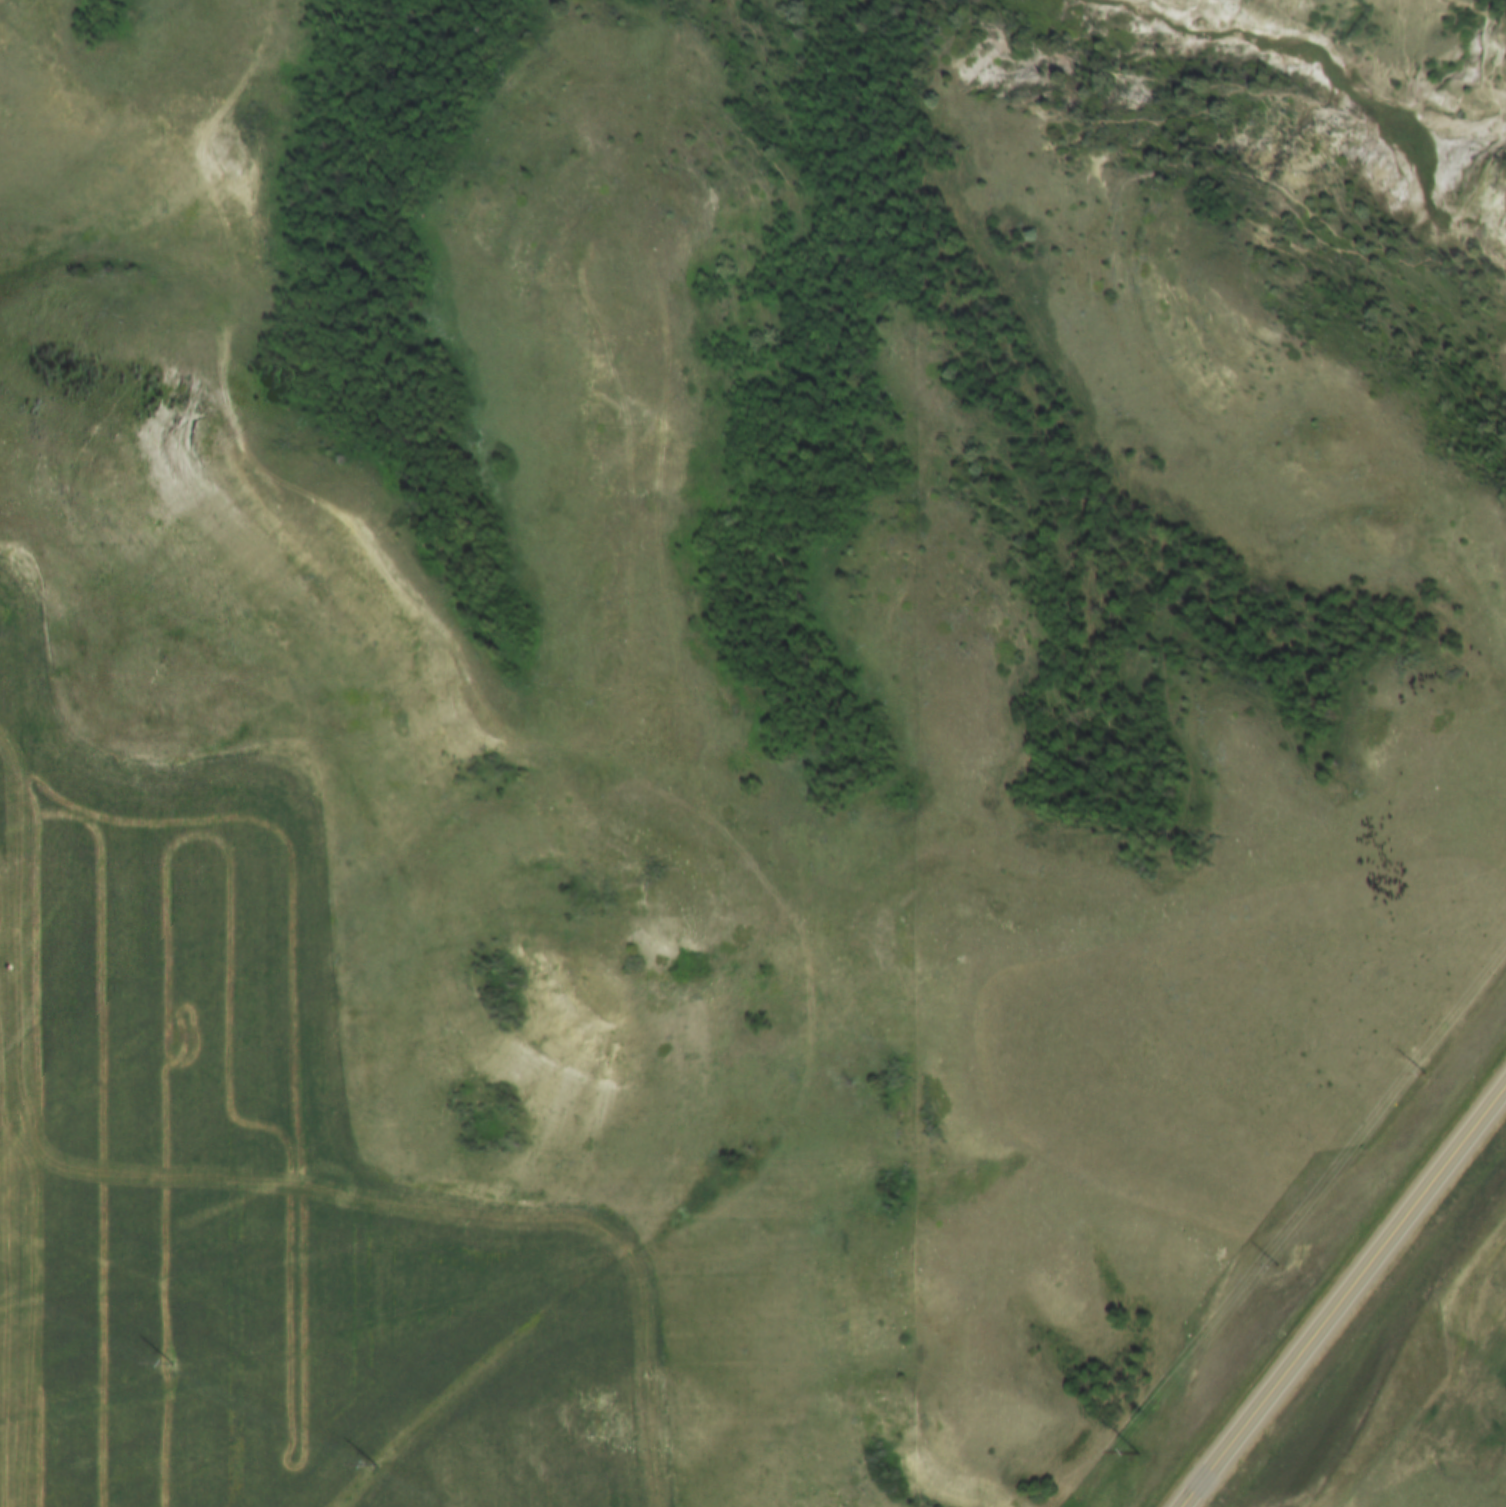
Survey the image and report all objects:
road: (1344, 1297)

